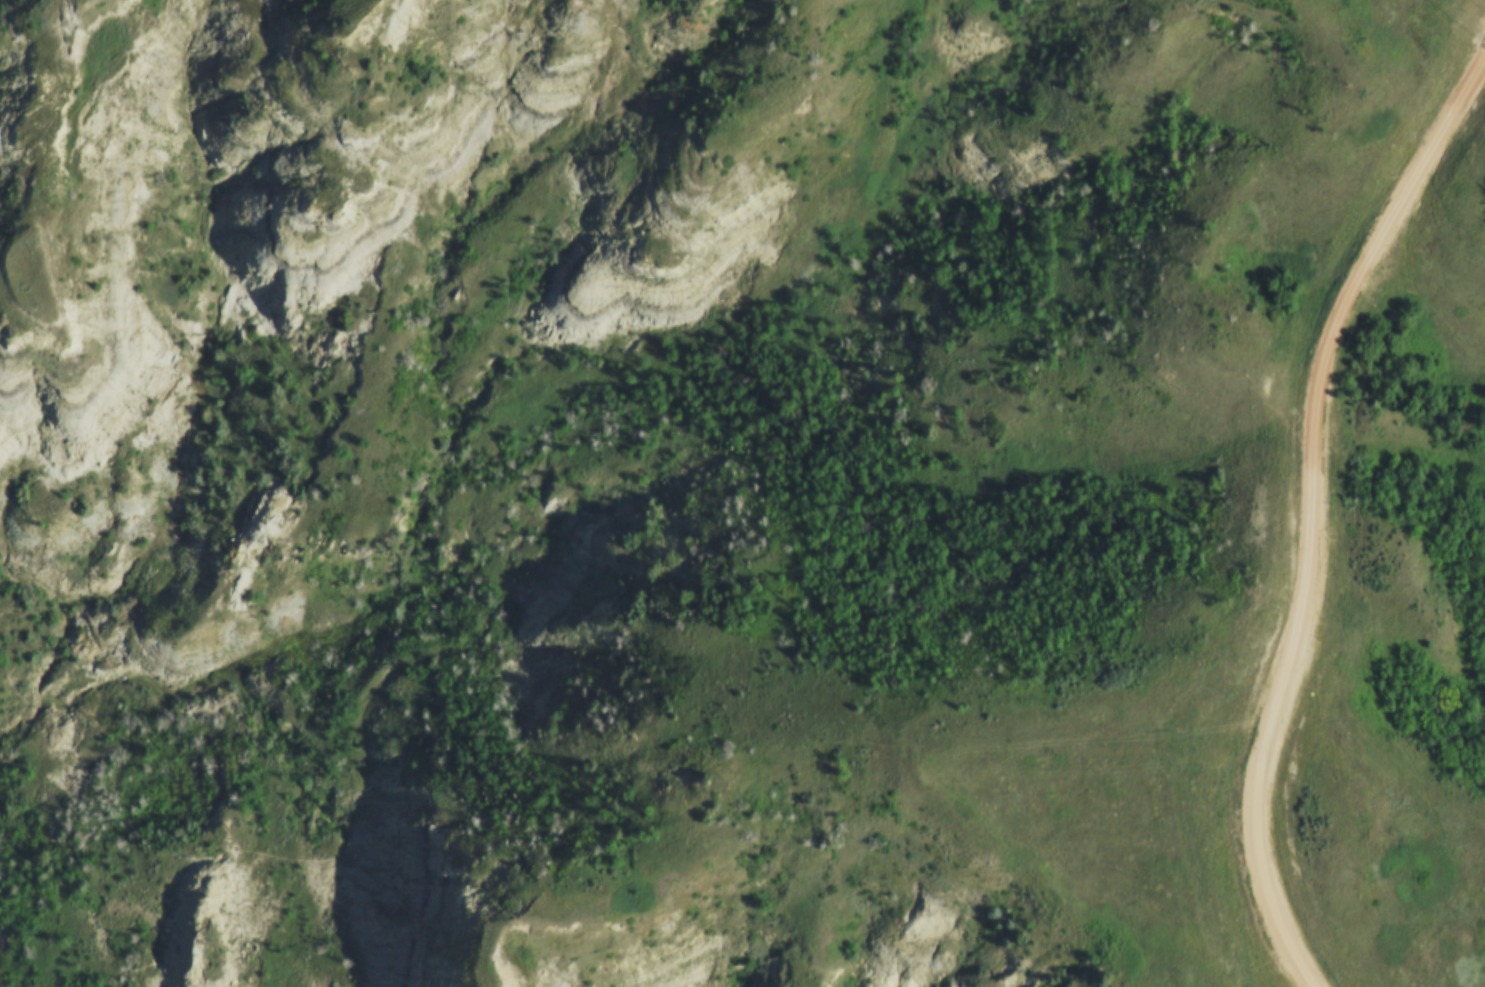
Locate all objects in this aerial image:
road: (1306, 504)

